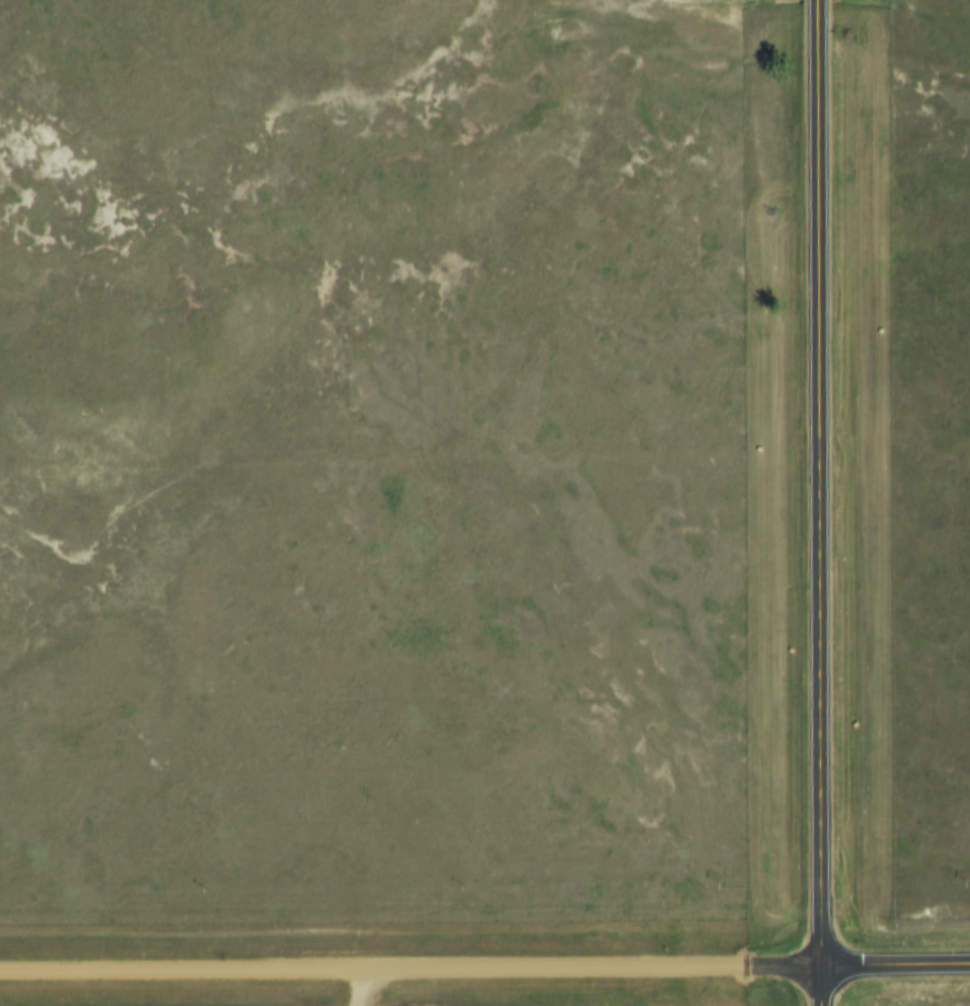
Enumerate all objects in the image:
road: (816, 502)
road: (893, 969)
road: (408, 970)

